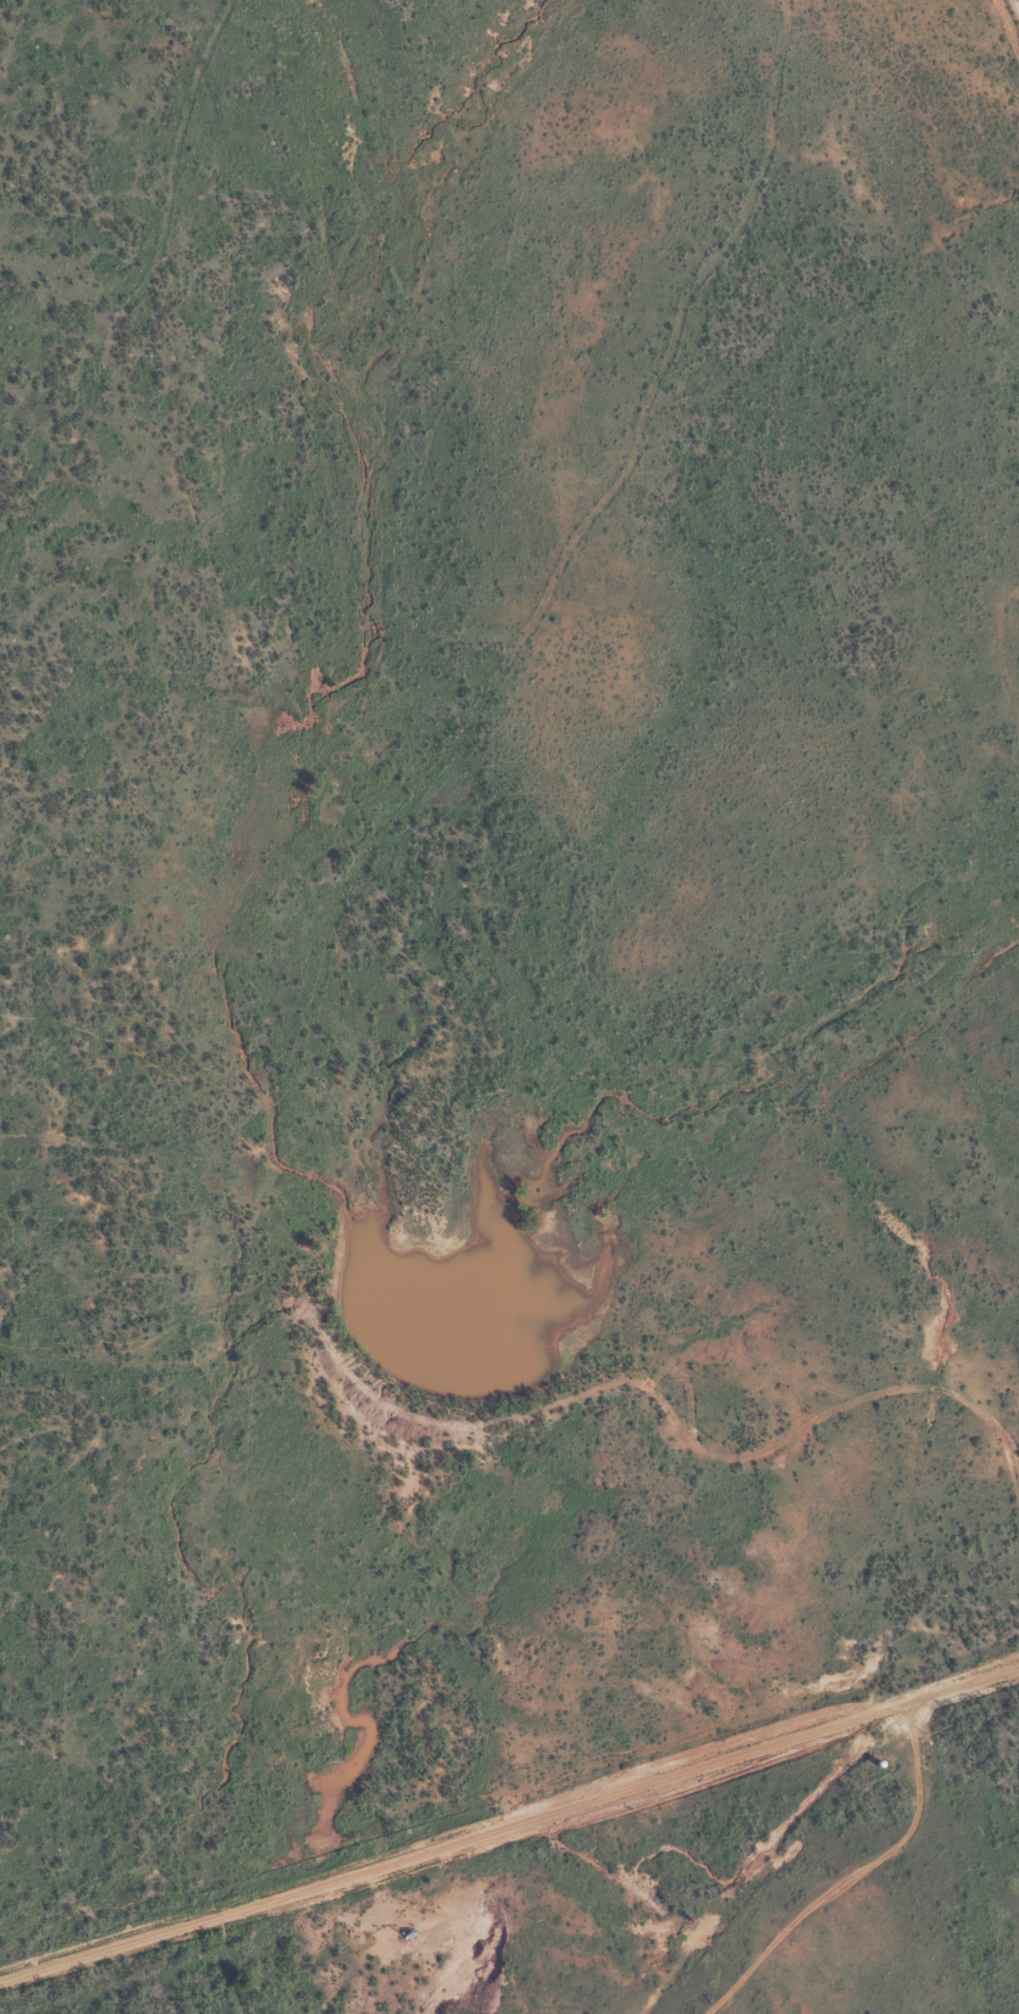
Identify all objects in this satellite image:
road: (953, 1800)
road: (531, 1853)
road: (920, 1872)

